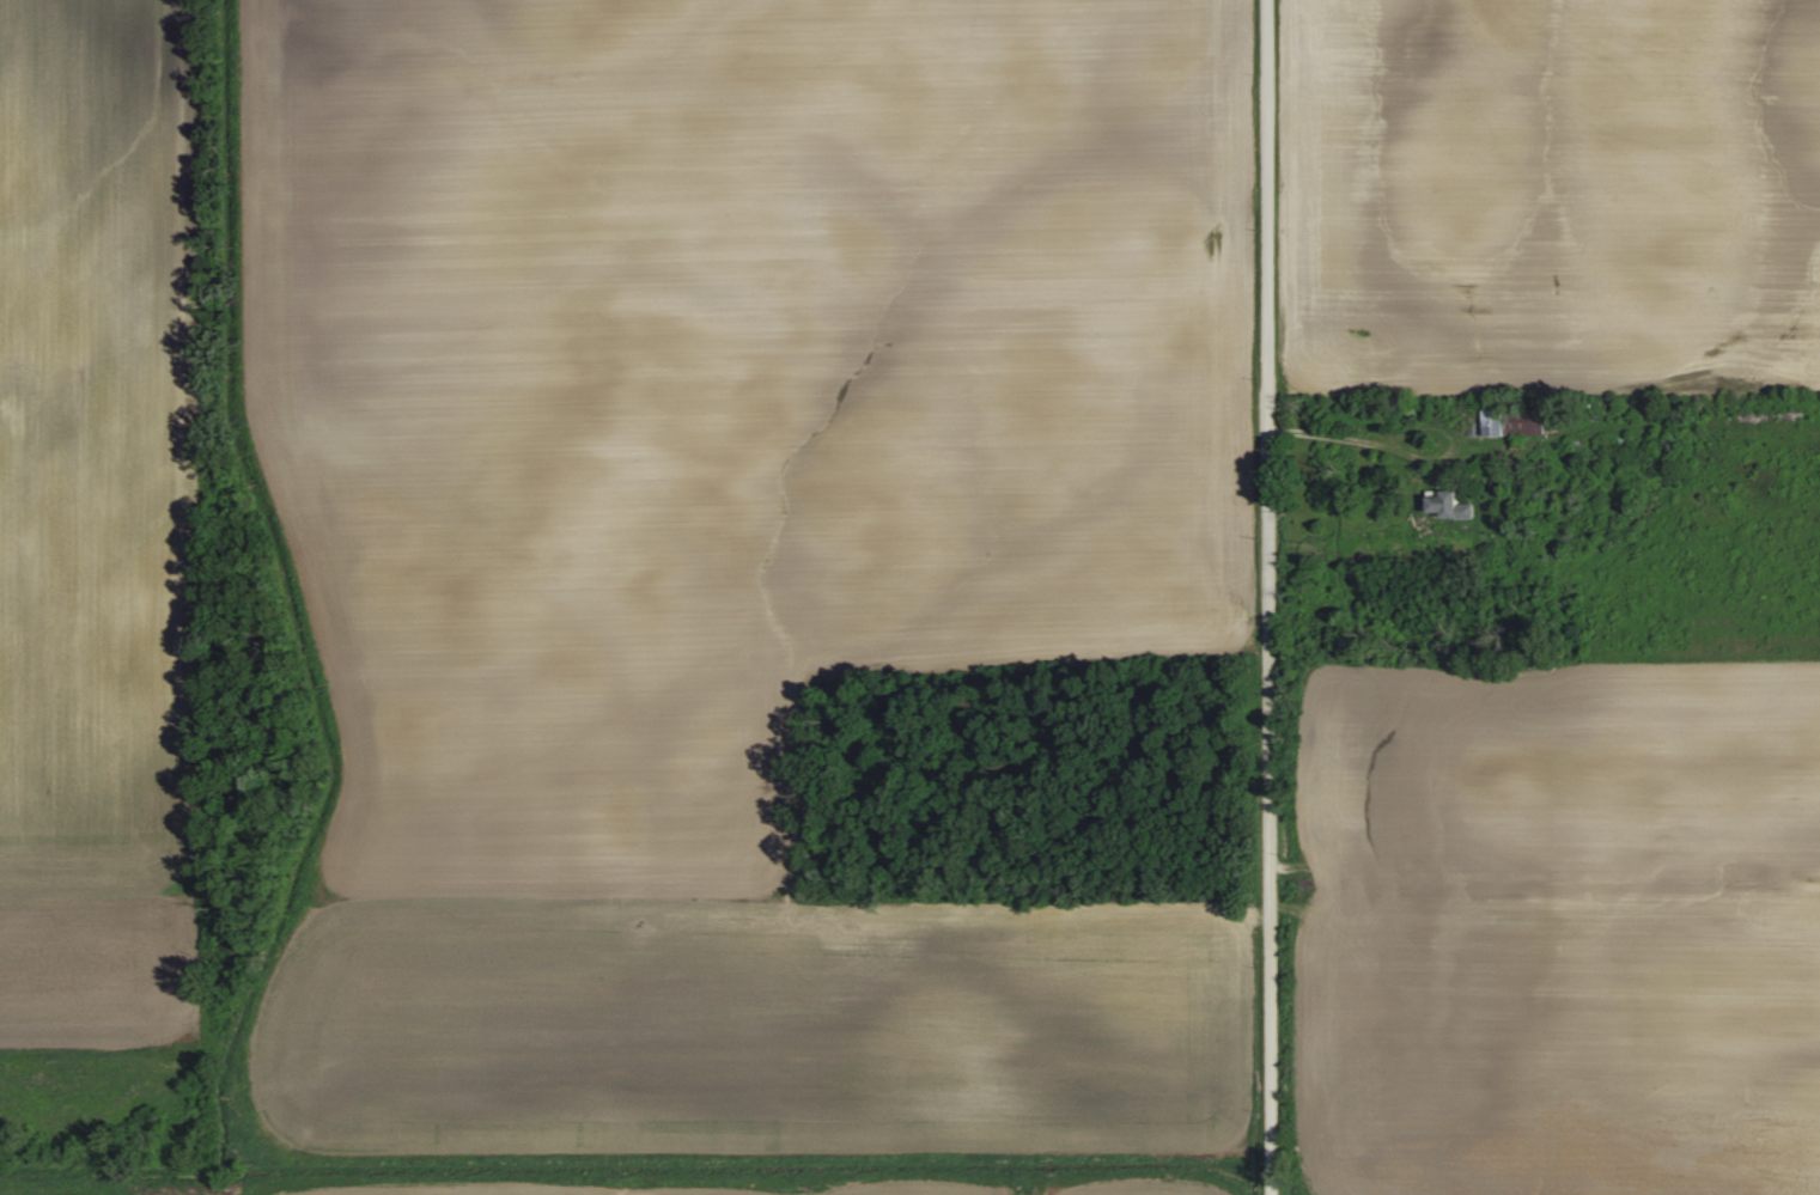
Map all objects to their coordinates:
building: (1493, 421)
building: (1526, 421)
building: (1443, 499)
road: (1270, 597)

